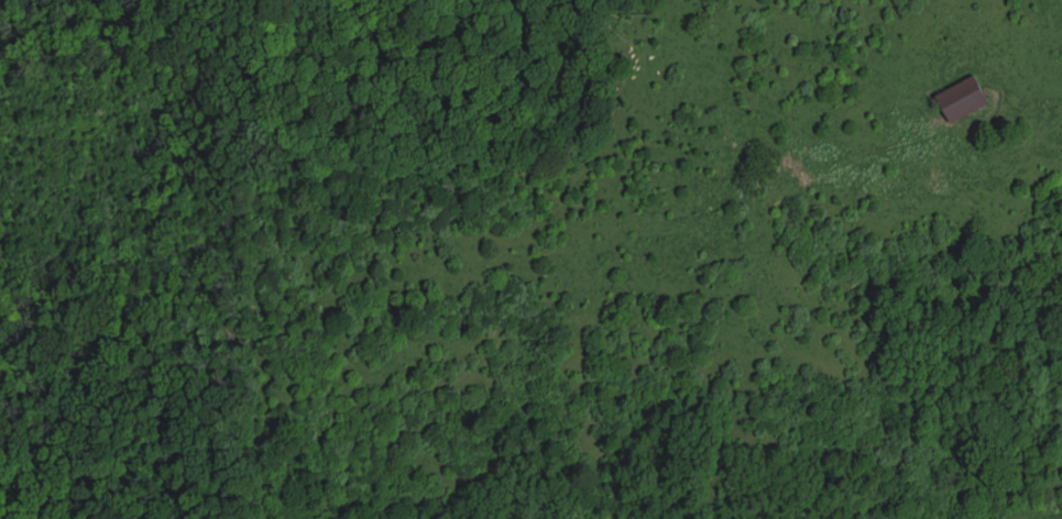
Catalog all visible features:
building: (967, 99)

